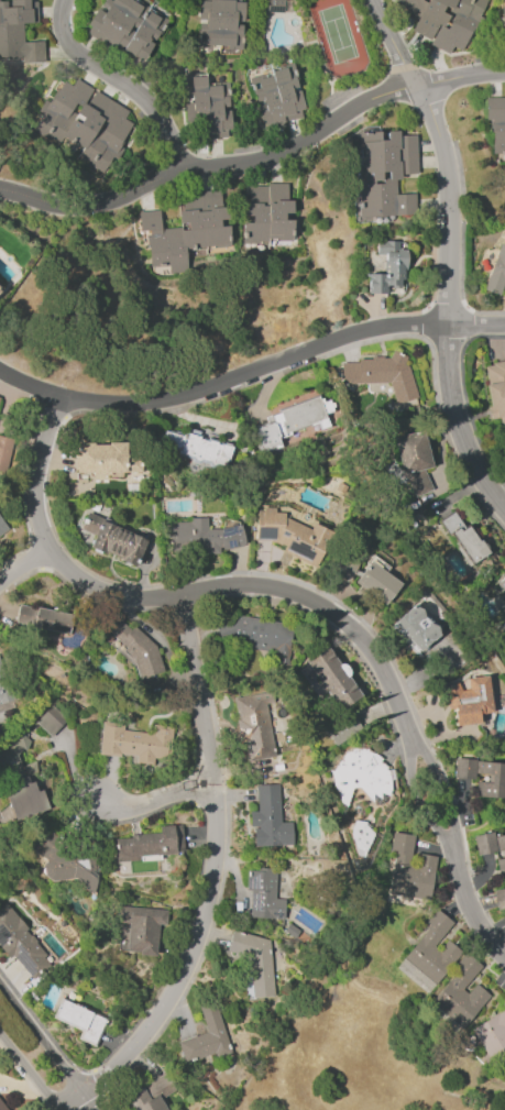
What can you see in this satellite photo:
building: (275, 6)
building: (444, 20)
building: (220, 23)
building: (503, 23)
building: (125, 25)
building: (19, 31)
park: (340, 36)
road: (395, 44)
road: (121, 83)
building: (276, 92)
building: (206, 102)
building: (59, 107)
road: (341, 120)
building: (97, 121)
building: (496, 122)
building: (408, 154)
building: (382, 178)
road: (92, 206)
building: (268, 217)
building: (185, 231)
building: (388, 267)
building: (497, 273)
building: (0, 289)
road: (450, 301)
road: (251, 374)
building: (382, 374)
building: (496, 391)
building: (305, 414)
building: (267, 436)
building: (197, 447)
building: (4, 452)
building: (100, 458)
building: (413, 461)
building: (2, 526)
building: (206, 535)
building: (290, 536)
building: (112, 539)
building: (470, 545)
road: (25, 567)
building: (377, 583)
building: (501, 584)
road: (300, 596)
building: (44, 618)
building: (416, 627)
building: (253, 634)
building: (134, 646)
building: (332, 678)
building: (4, 686)
building: (471, 702)
building: (51, 721)
building: (254, 727)
building: (341, 728)
building: (134, 743)
building: (464, 768)
building: (360, 773)
building: (496, 777)
building: (24, 799)
road: (157, 799)
building: (270, 818)
building: (499, 842)
building: (151, 843)
building: (484, 843)
building: (63, 860)
building: (501, 868)
building: (408, 871)
road: (215, 879)
building: (263, 895)
building: (499, 895)
building: (142, 927)
building: (20, 943)
building: (432, 949)
building: (254, 960)
building: (461, 994)
building: (504, 1004)
building: (81, 1021)
building: (492, 1036)
building: (206, 1037)
road: (48, 1048)
road: (29, 1071)
building: (150, 1095)
building: (1, 1107)
building: (481, 1108)

